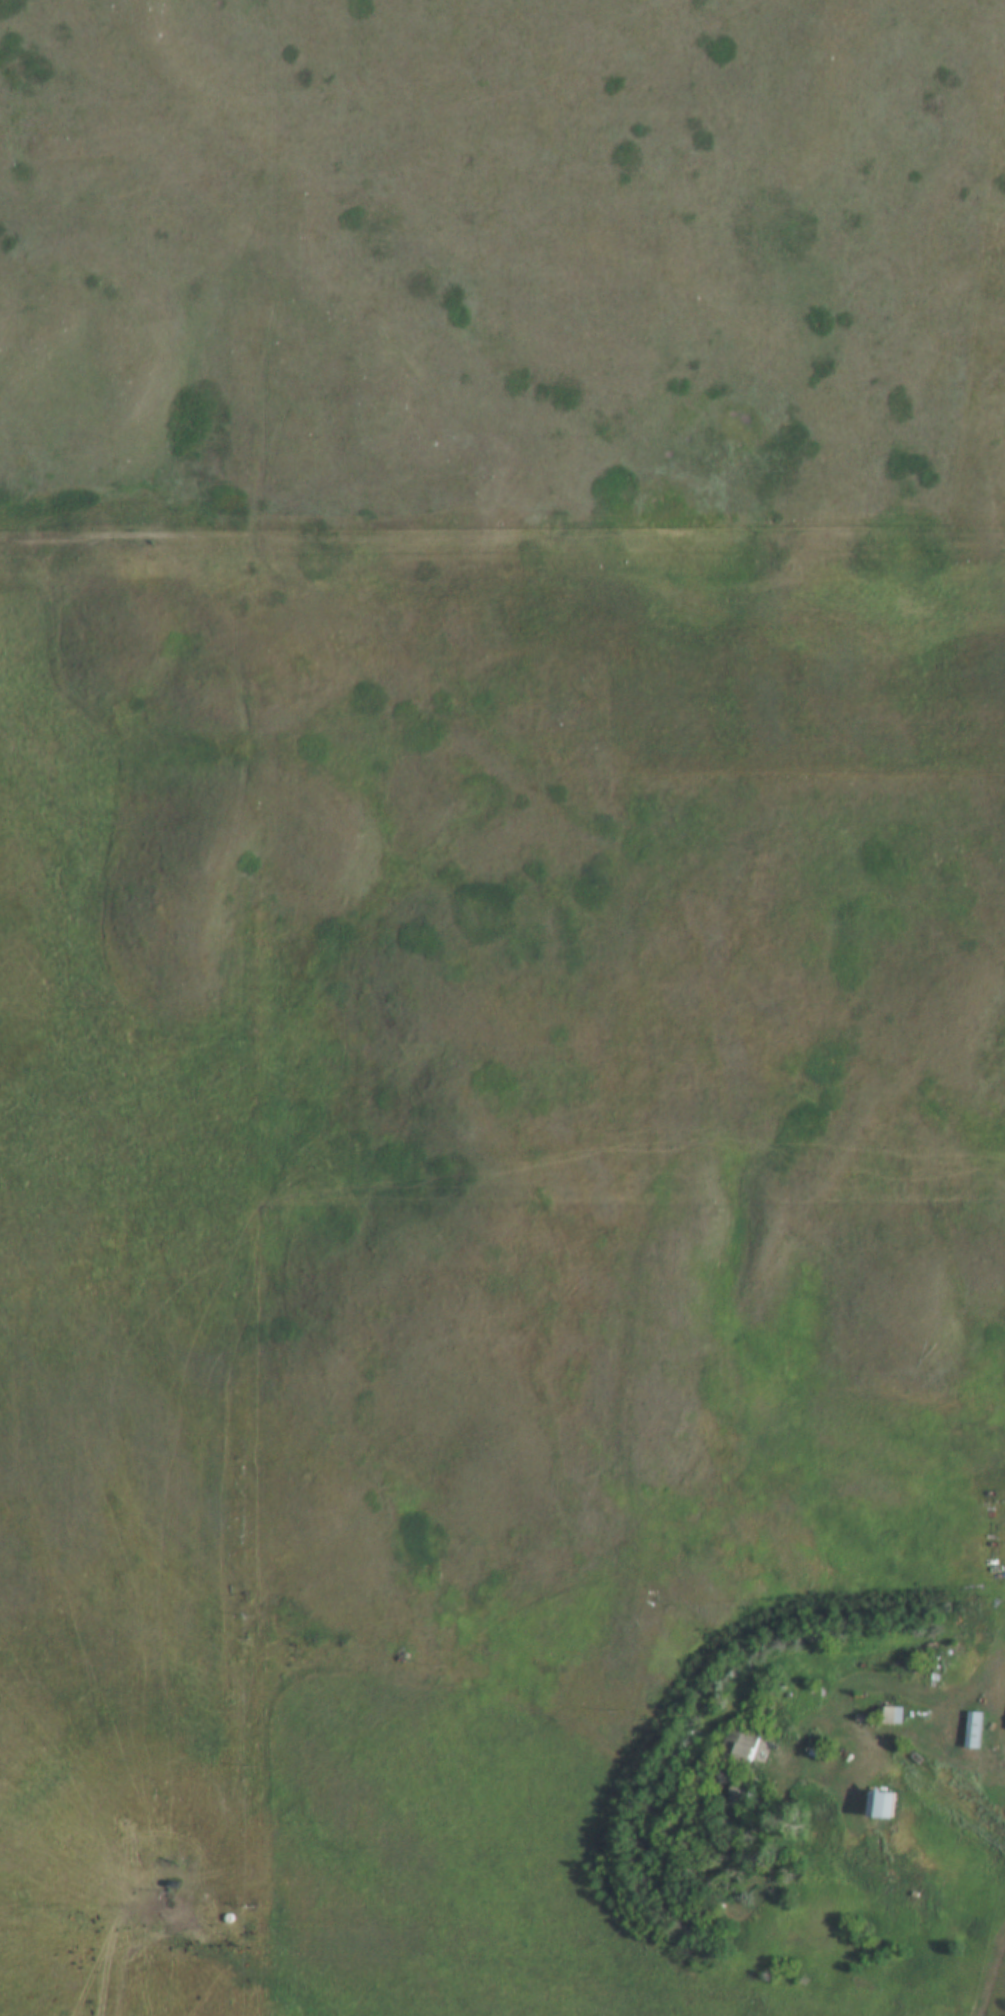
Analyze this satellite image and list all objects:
building: (974, 1734)
building: (740, 1745)
road: (907, 1763)
building: (881, 1805)

